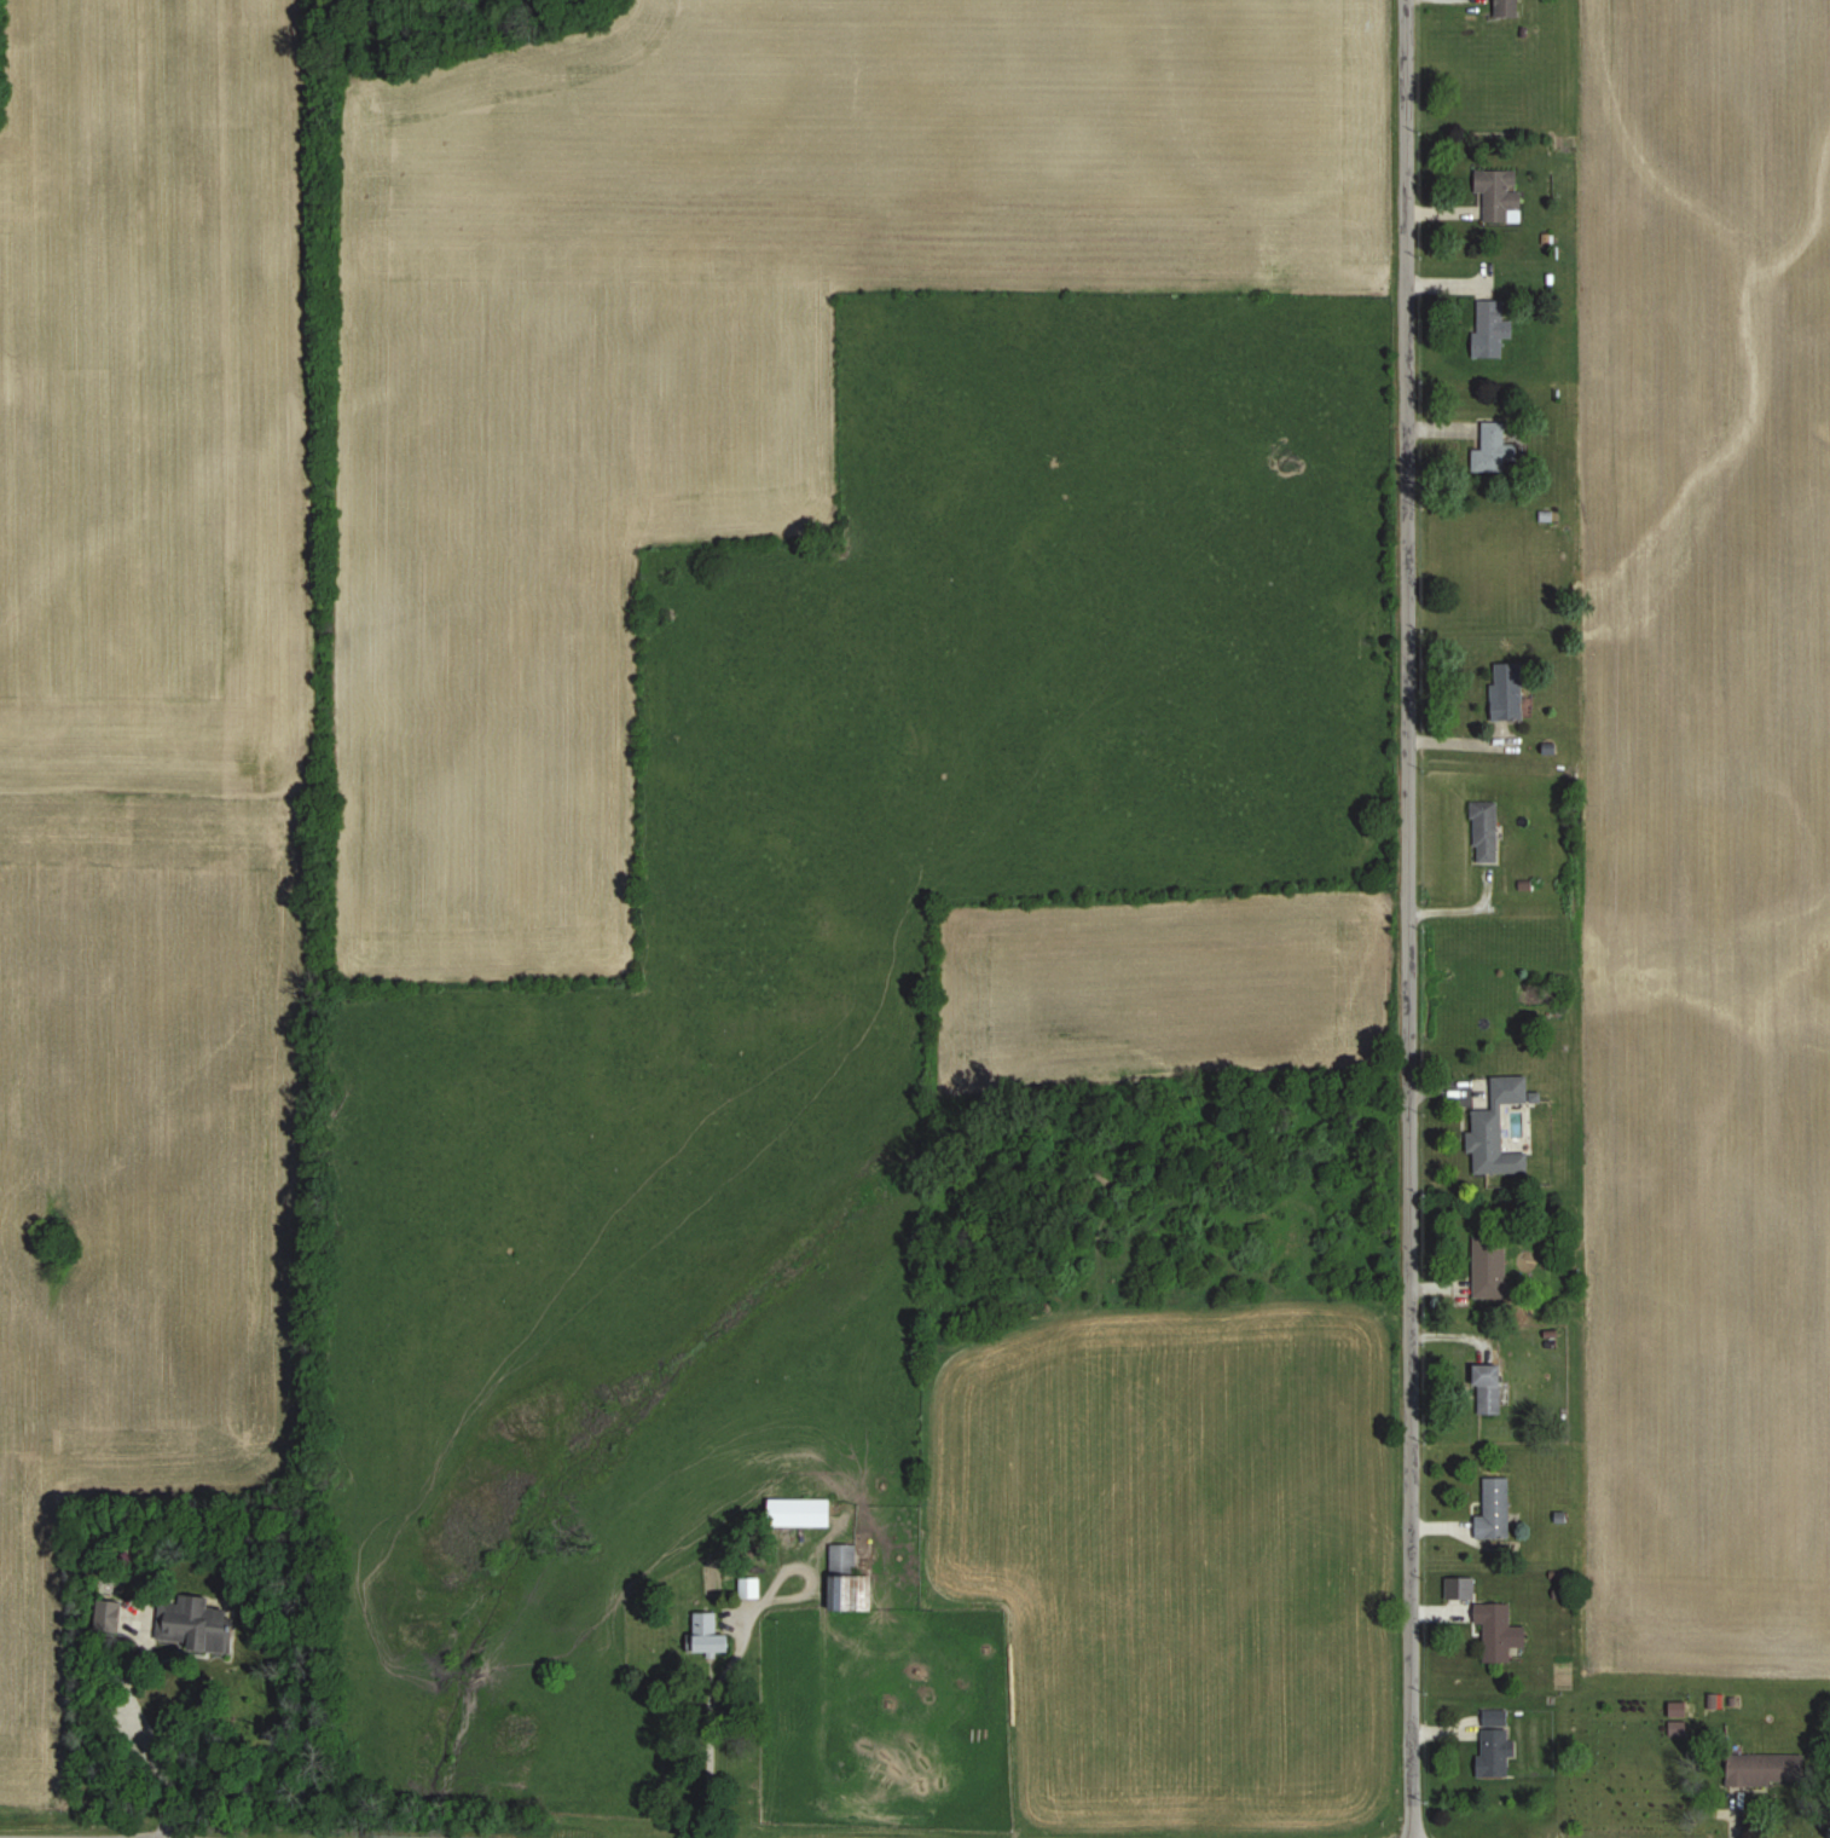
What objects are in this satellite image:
building: (1504, 8)
building: (1498, 195)
building: (1488, 329)
building: (1490, 450)
building: (1505, 692)
building: (1483, 833)
road: (1406, 918)
building: (1502, 1129)
building: (1494, 1268)
building: (1494, 1391)
building: (1499, 1512)
building: (804, 1514)
building: (852, 1583)
building: (753, 1589)
building: (1463, 1589)
building: (116, 1618)
building: (205, 1626)
building: (1502, 1632)
building: (712, 1637)
building: (1498, 1746)
road: (152, 1747)
road: (711, 1761)
building: (1771, 1770)

